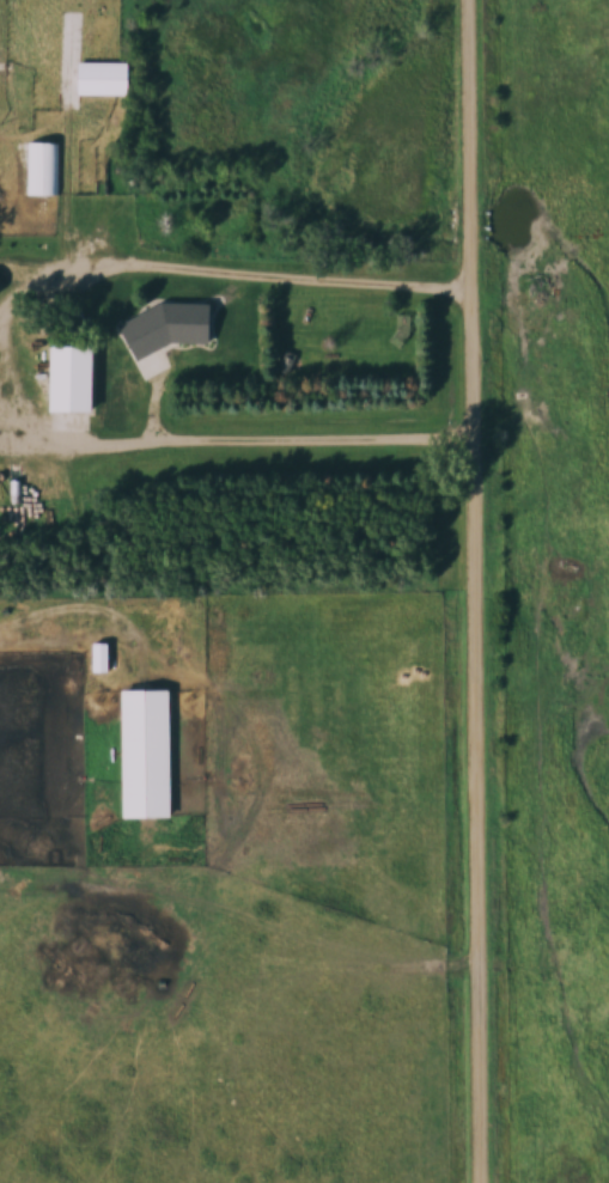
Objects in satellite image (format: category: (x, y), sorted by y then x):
building: (104, 79)
building: (43, 169)
road: (286, 276)
building: (171, 318)
building: (74, 378)
road: (315, 438)
road: (480, 591)
building: (147, 754)

